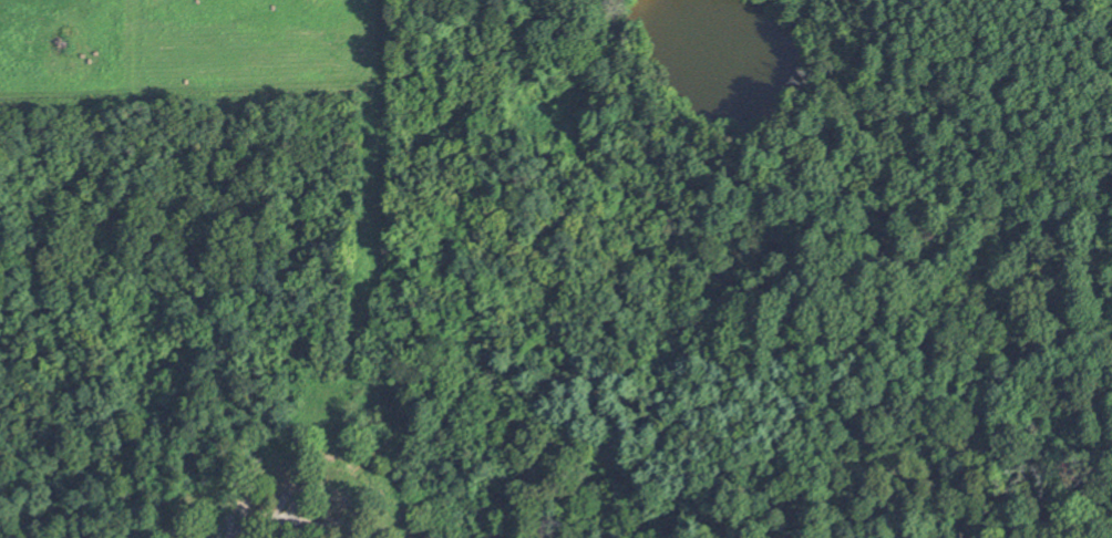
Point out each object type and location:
road: (288, 404)
road: (284, 514)

